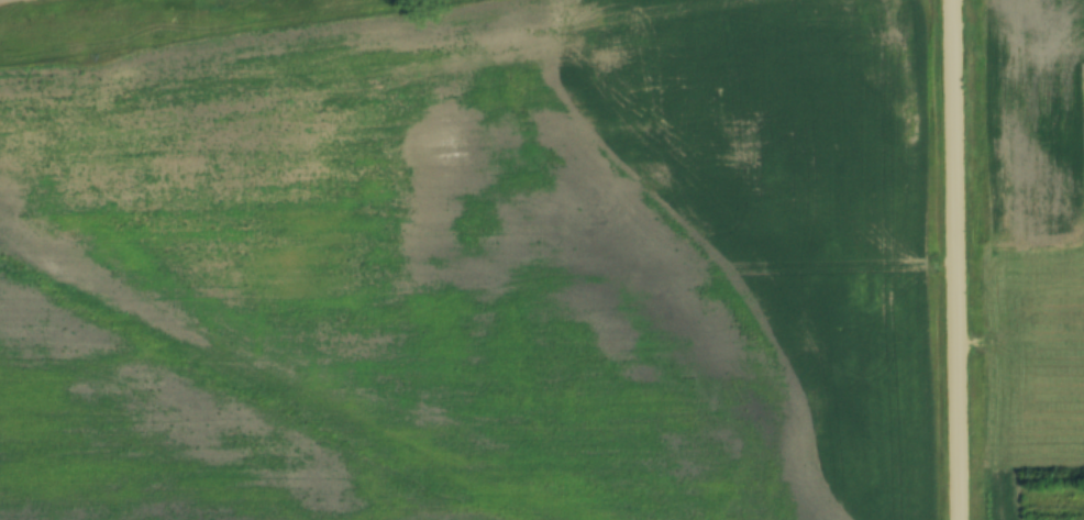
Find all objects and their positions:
road: (955, 259)

